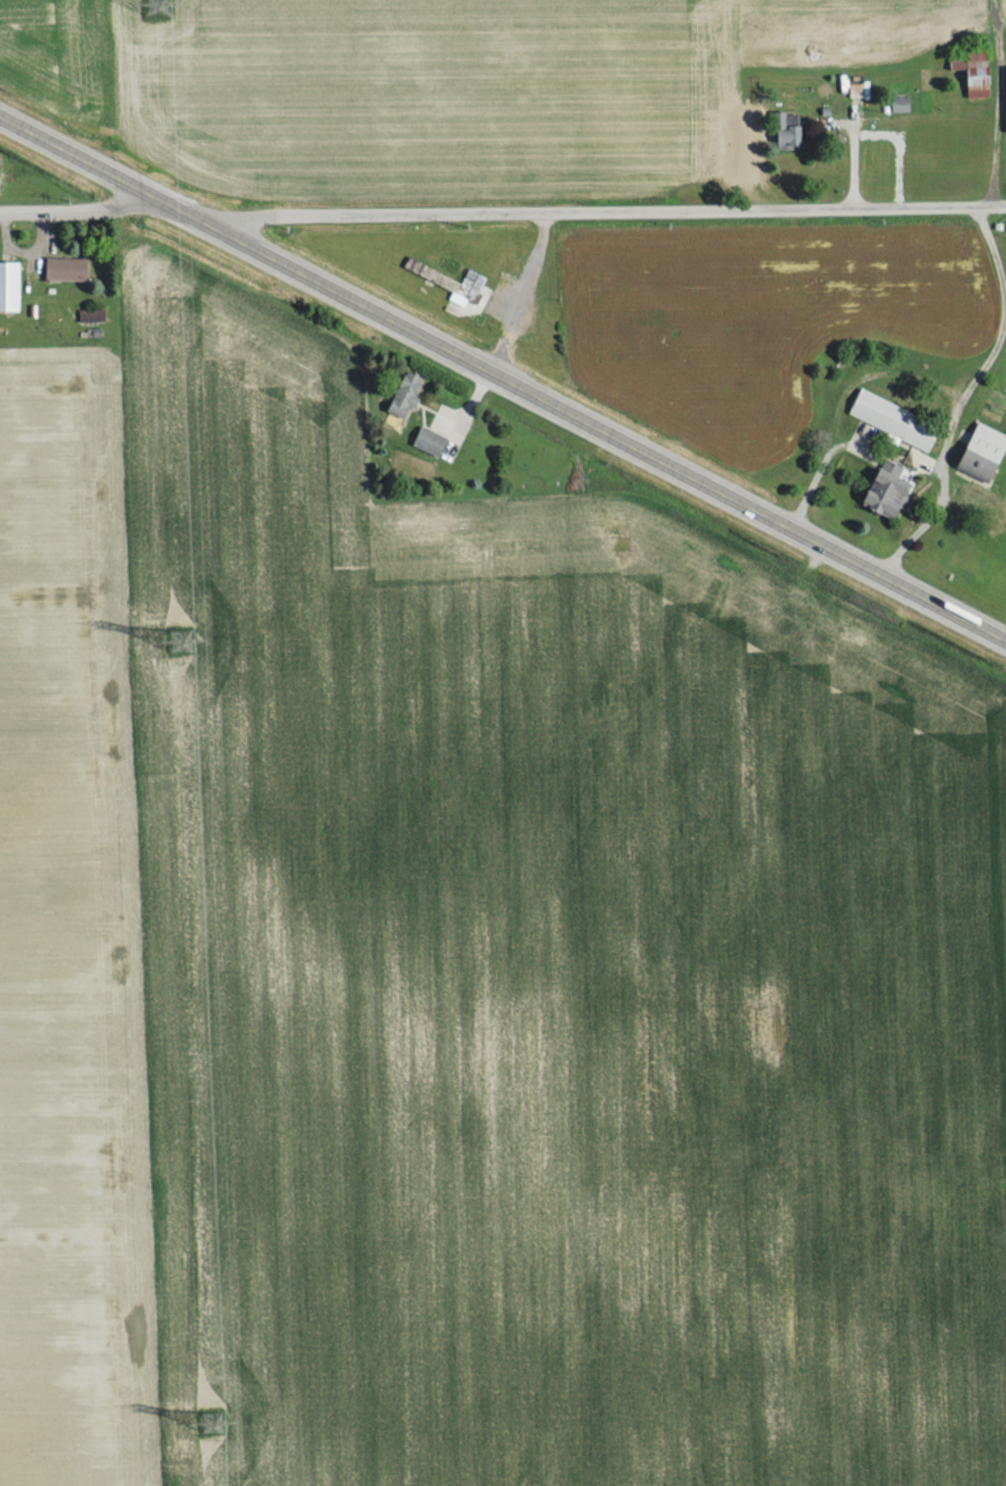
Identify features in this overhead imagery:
crop: (425, 81)
building: (973, 86)
building: (783, 130)
crop: (0, 161)
road: (502, 205)
building: (62, 270)
building: (7, 287)
building: (462, 288)
crop: (751, 317)
road: (502, 369)
road: (963, 386)
building: (401, 395)
building: (889, 421)
building: (425, 442)
building: (979, 453)
building: (884, 490)
power tower: (183, 634)
crop: (469, 973)
power tower: (213, 1412)

